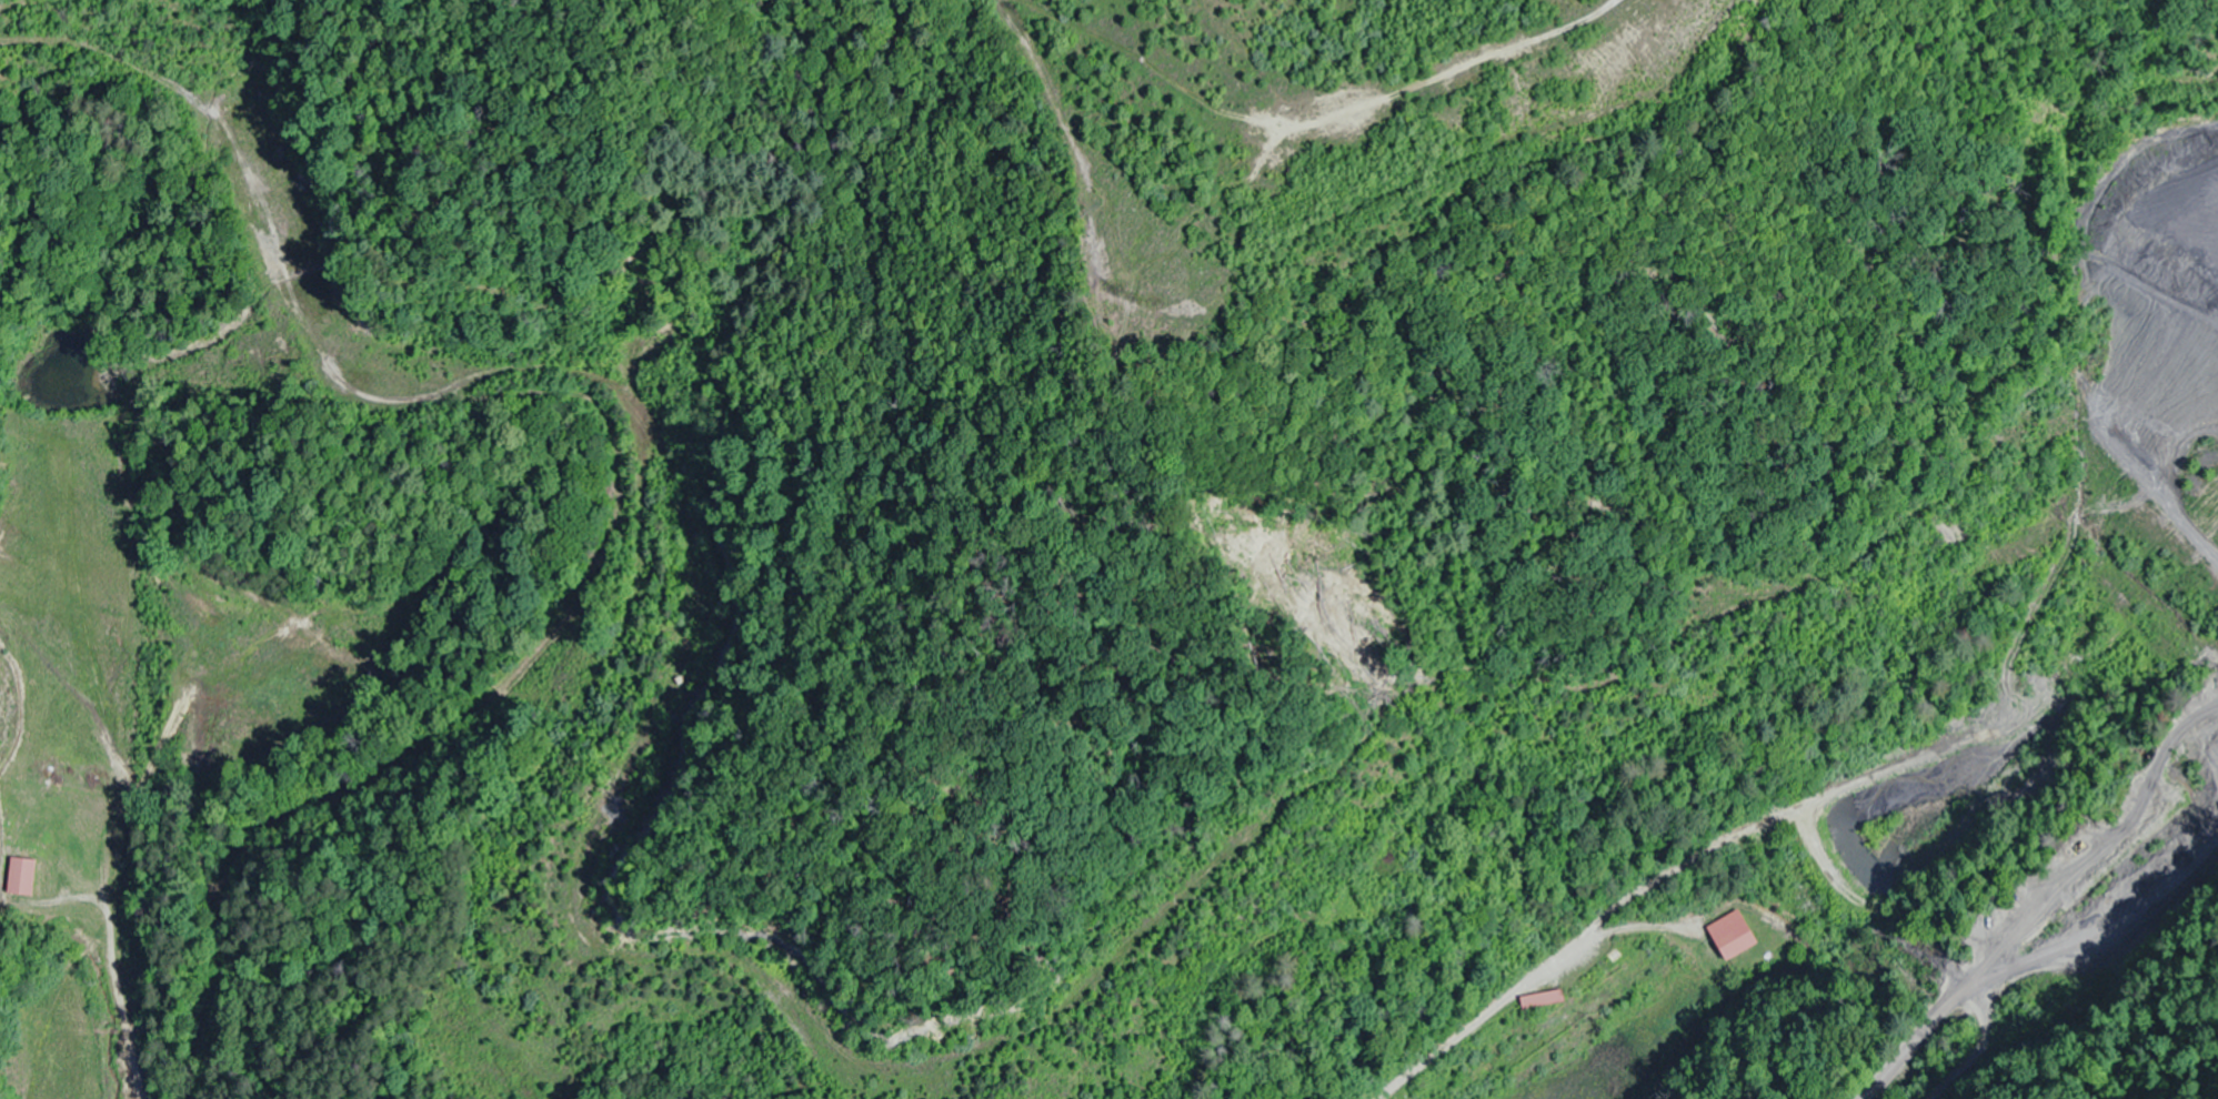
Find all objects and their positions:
road: (1271, 283)
road: (548, 564)
building: (21, 876)
road: (129, 934)
building: (1733, 936)
building: (1543, 1000)
road: (1697, 1025)

